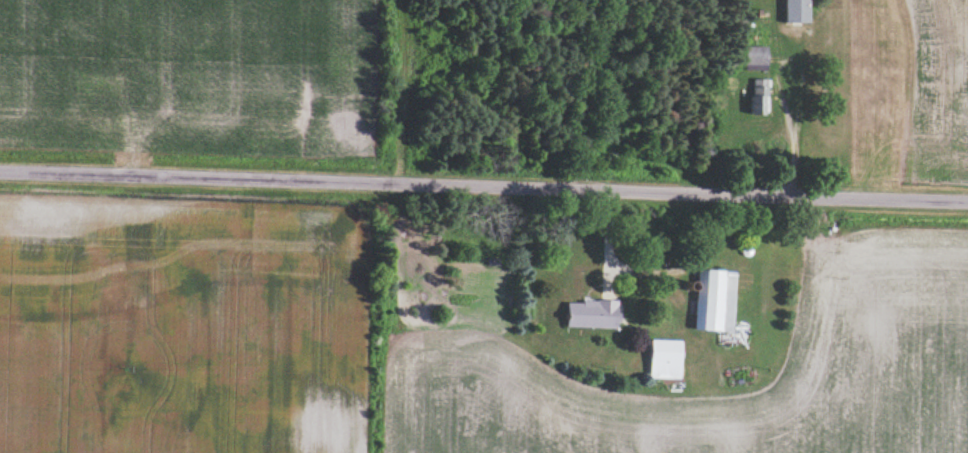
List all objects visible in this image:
building: (800, 11)
building: (757, 54)
building: (762, 95)
road: (484, 186)
building: (717, 300)
building: (595, 313)
building: (667, 358)

